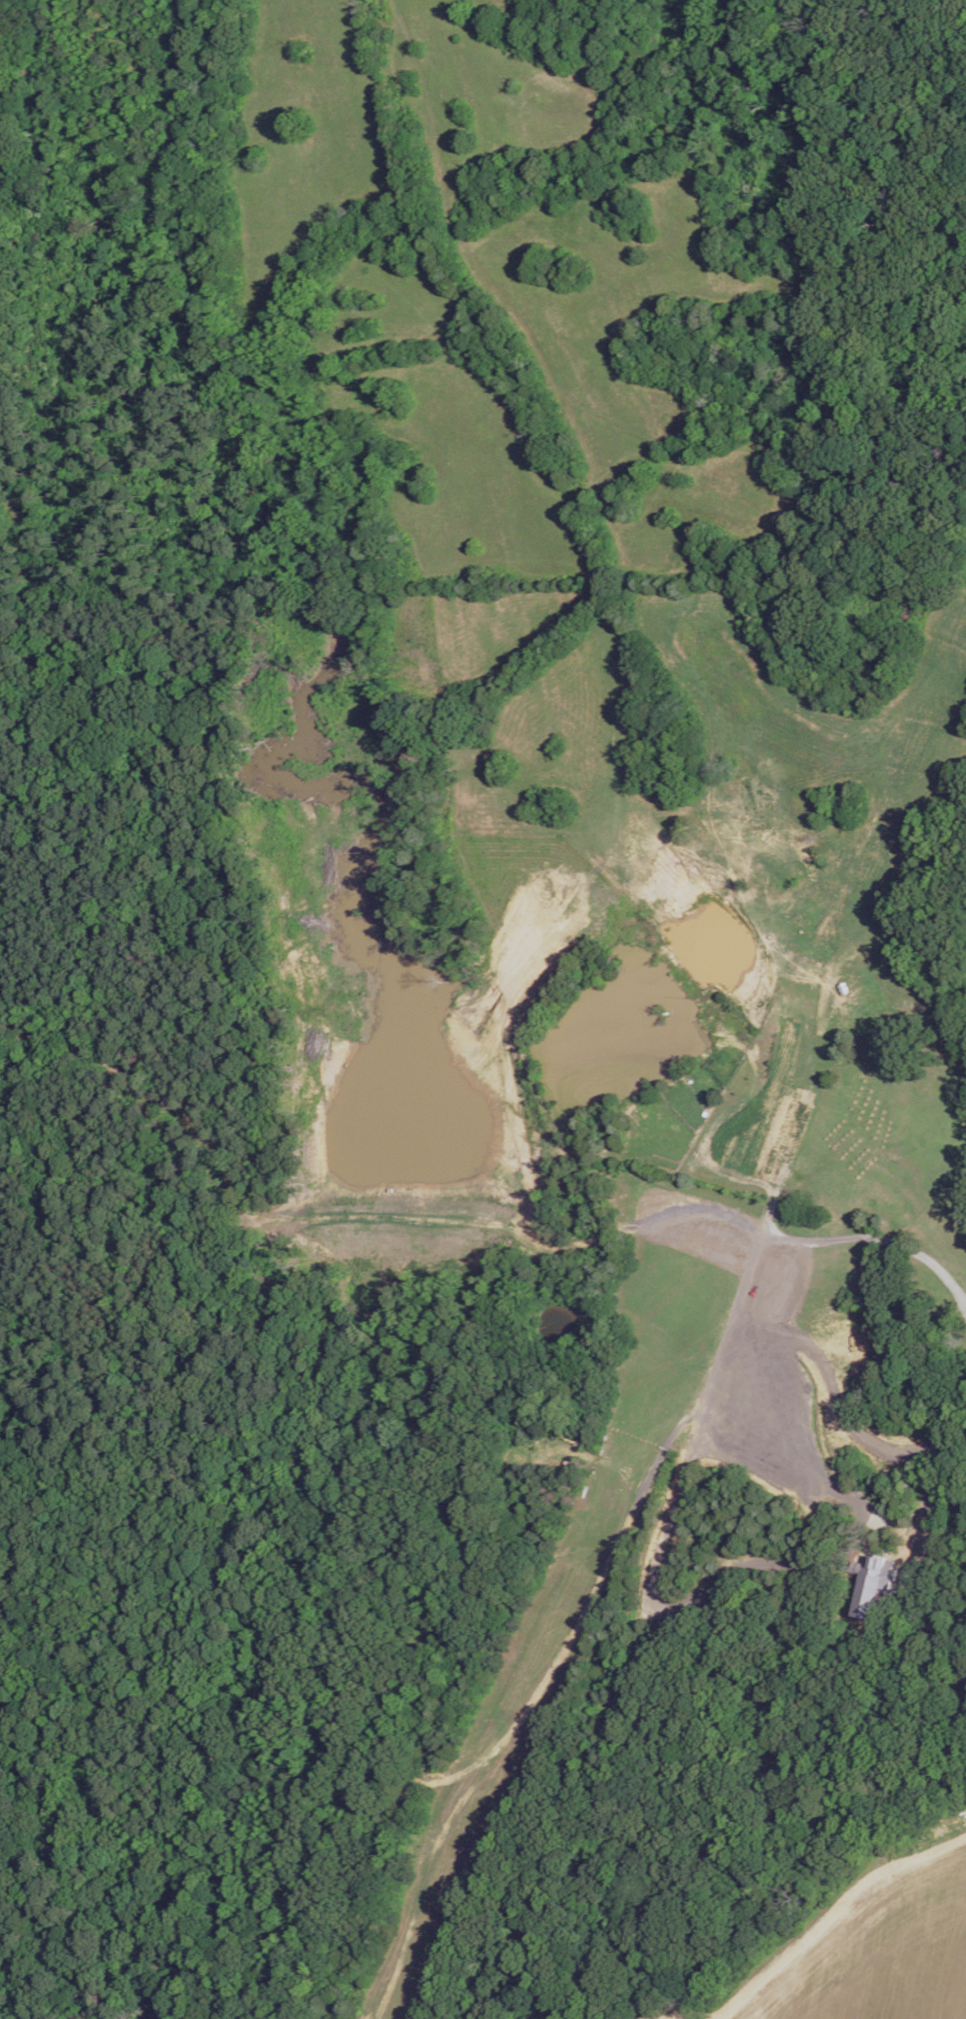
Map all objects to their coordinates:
building: (875, 1582)
road: (917, 1972)

